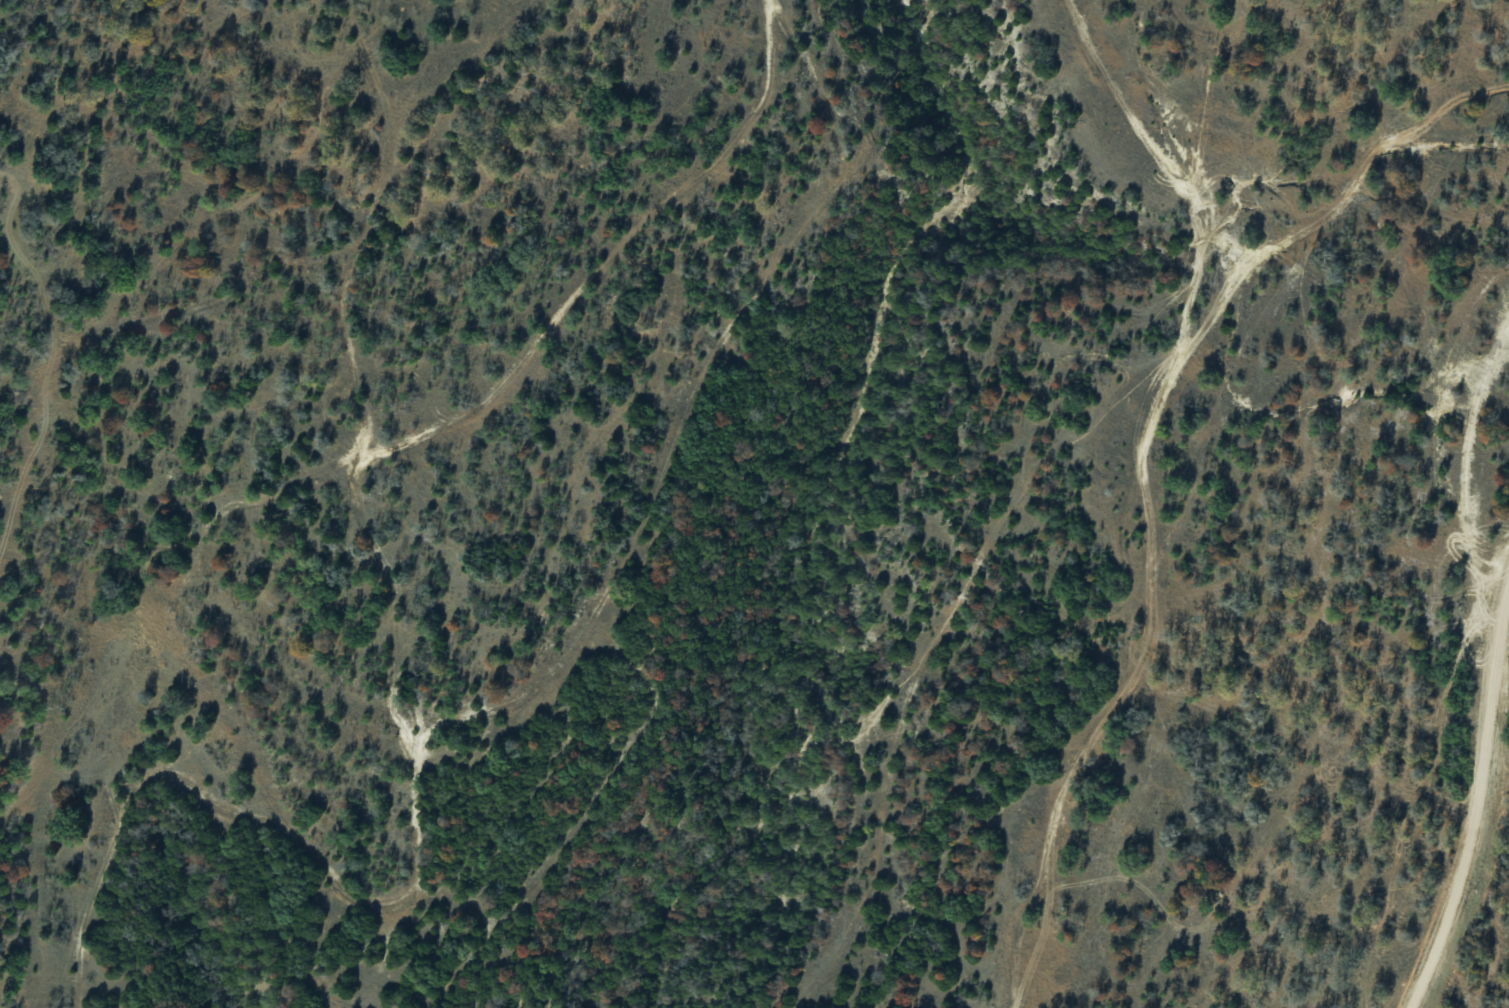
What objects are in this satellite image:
road: (1476, 802)

